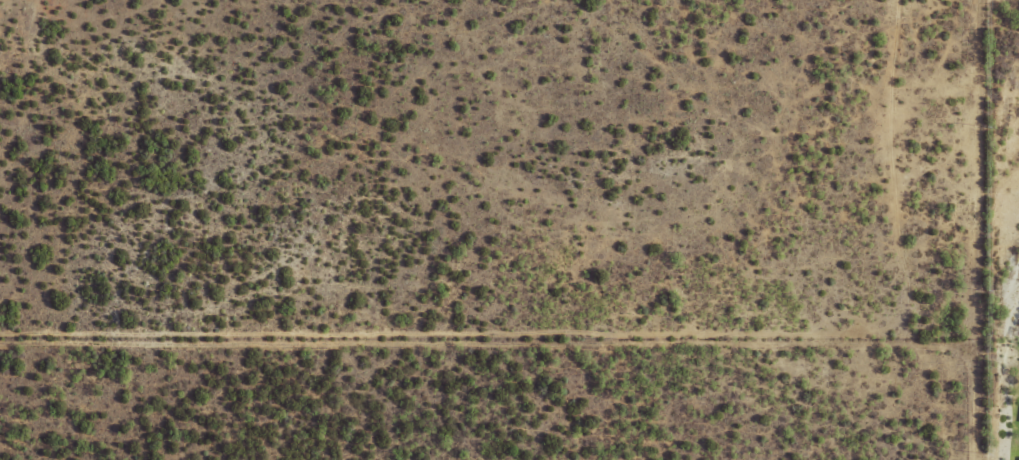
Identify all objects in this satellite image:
building: (1018, 459)

